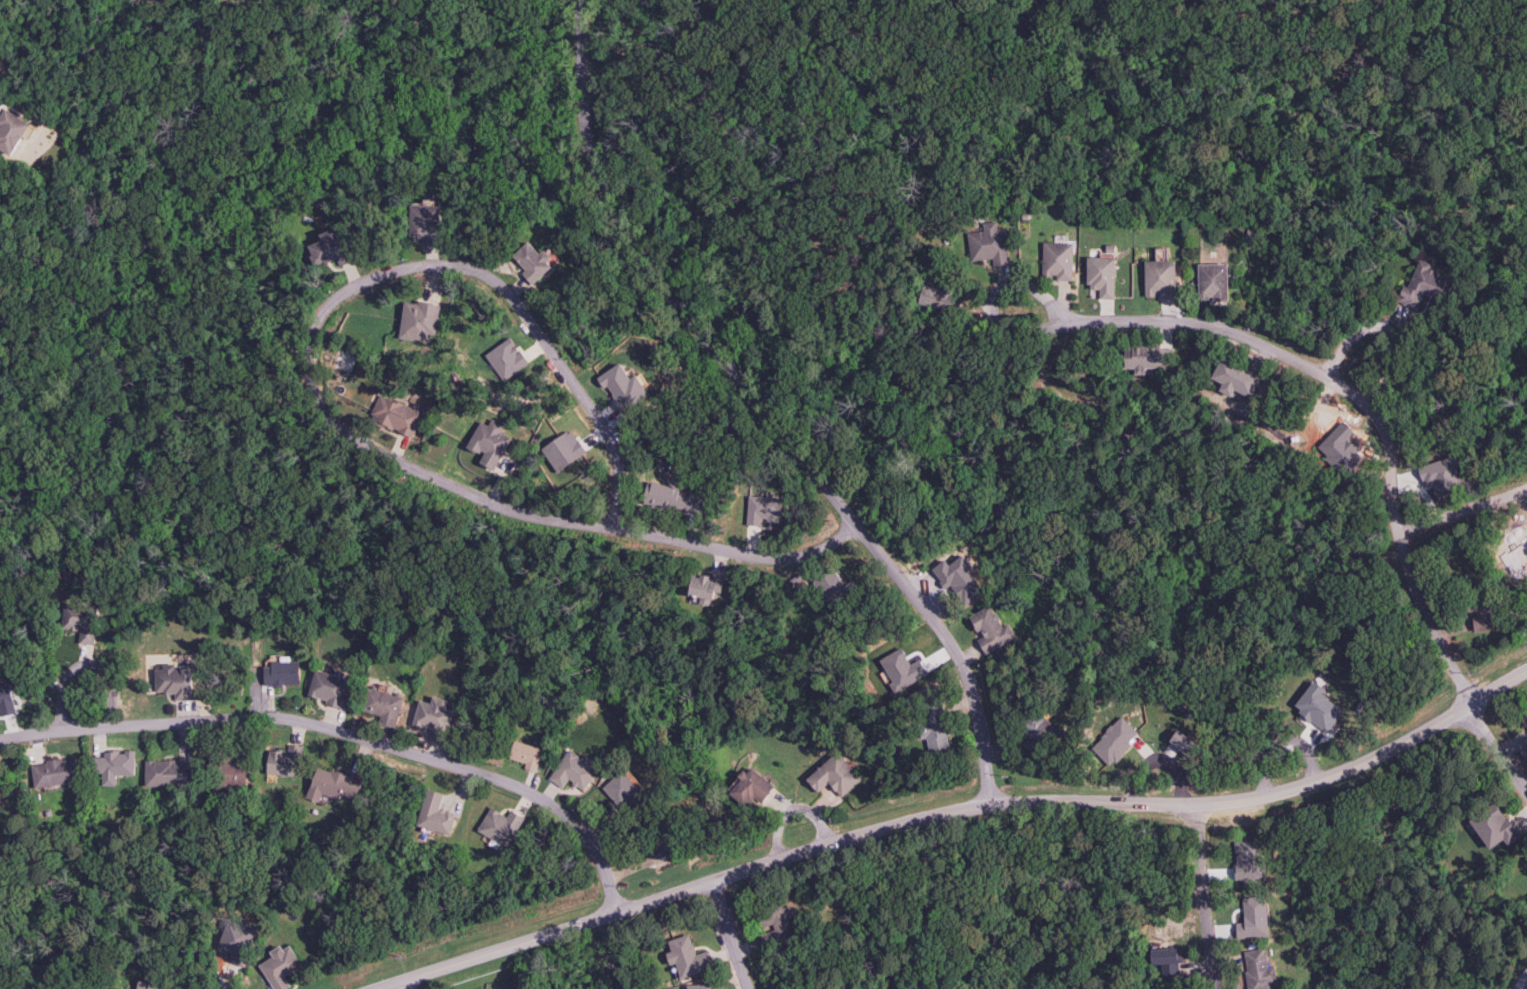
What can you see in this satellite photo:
building: (11, 130)
building: (425, 222)
building: (989, 243)
building: (331, 248)
building: (1057, 259)
building: (533, 261)
building: (1101, 275)
building: (1160, 278)
building: (1213, 281)
building: (1424, 286)
building: (937, 295)
building: (418, 320)
building: (1147, 357)
building: (506, 358)
road: (1370, 359)
road: (1081, 364)
building: (1235, 378)
road: (287, 381)
building: (623, 387)
road: (1350, 388)
road: (1300, 401)
road: (329, 409)
road: (767, 410)
road: (1457, 518)
road: (91, 699)
road: (345, 733)
road: (1497, 748)
road: (1280, 768)
road: (1162, 778)
road: (954, 812)
road: (807, 832)
road: (1206, 896)
road: (729, 936)
road: (405, 984)
road: (1526, 988)

